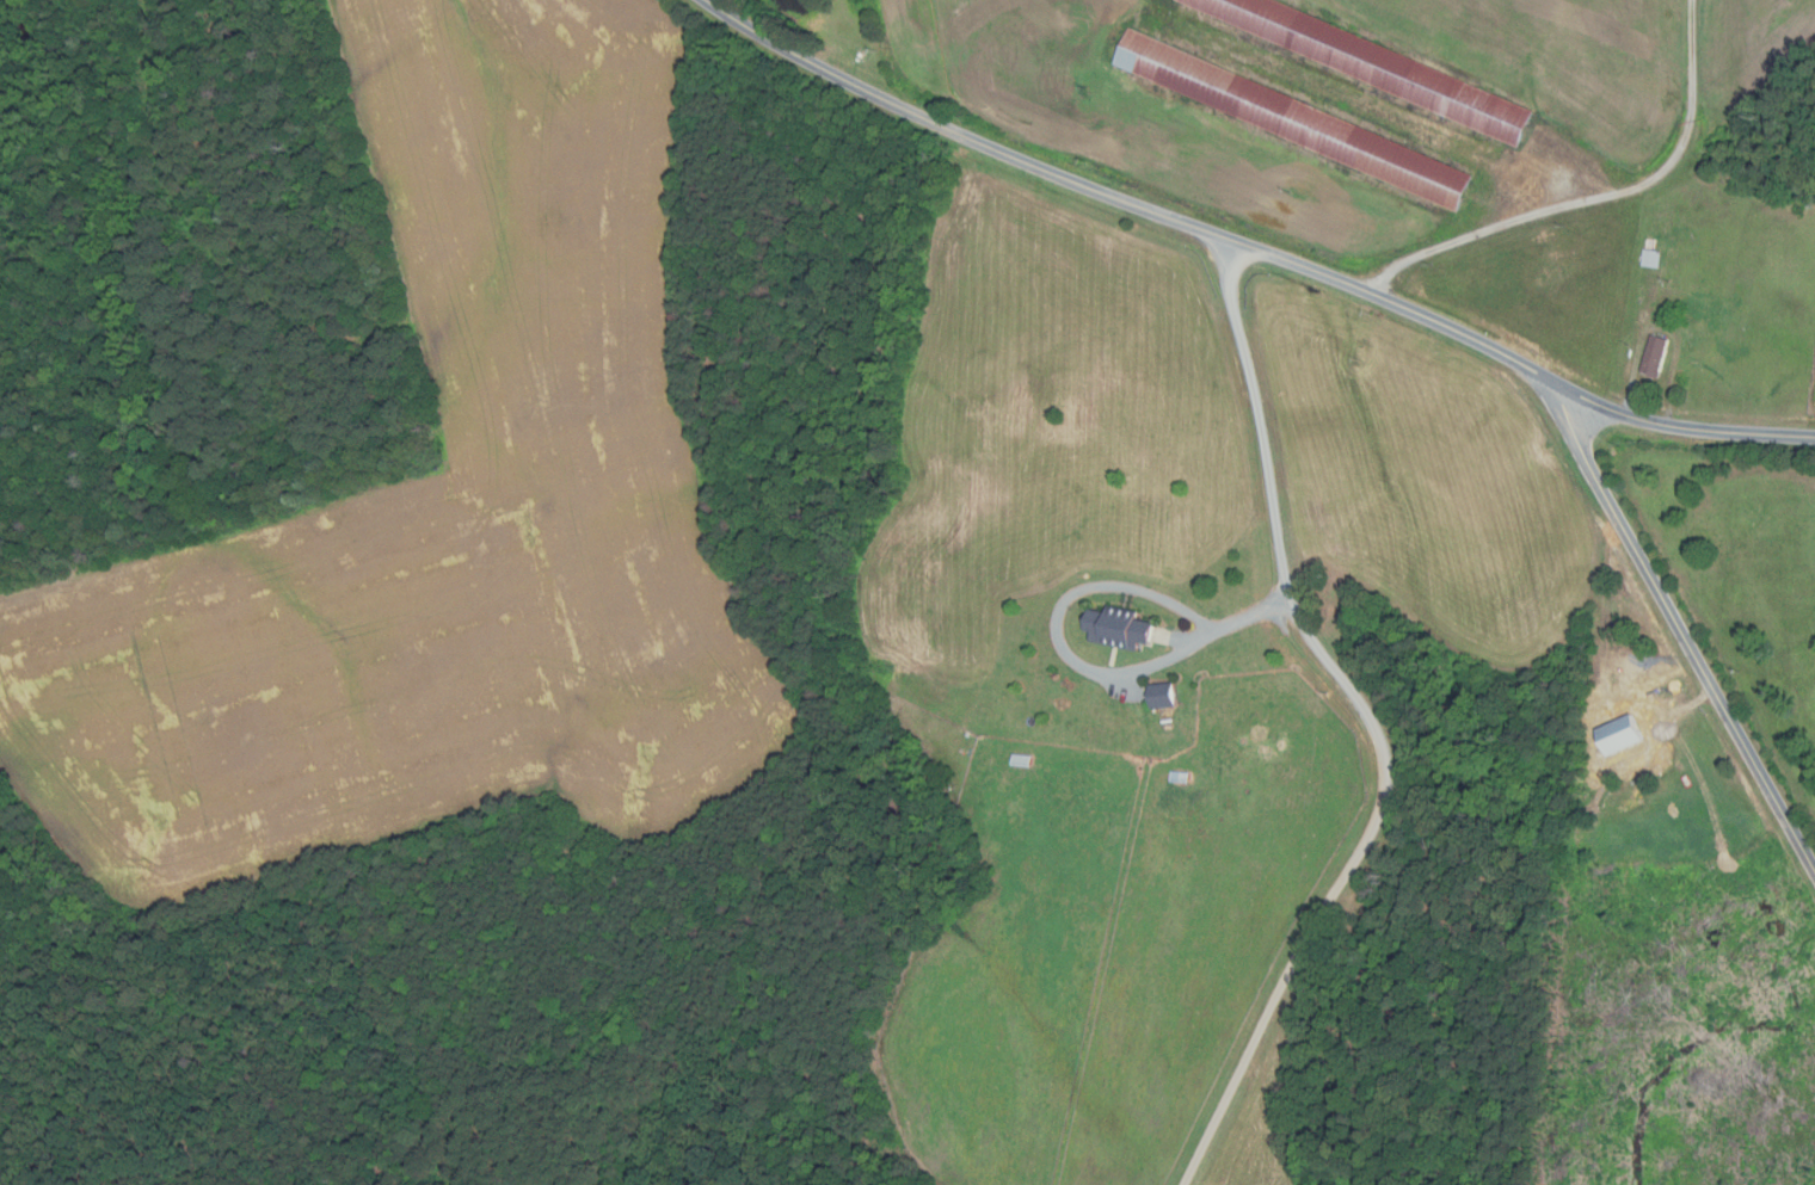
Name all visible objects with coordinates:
building: (1372, 64)
building: (1292, 118)
road: (1598, 197)
road: (1253, 249)
building: (1650, 258)
building: (1671, 320)
building: (1654, 356)
crop: (439, 523)
road: (1071, 597)
building: (1115, 627)
road: (1680, 631)
building: (1162, 696)
road: (1371, 722)
building: (1618, 735)
building: (1020, 760)
building: (1180, 777)

